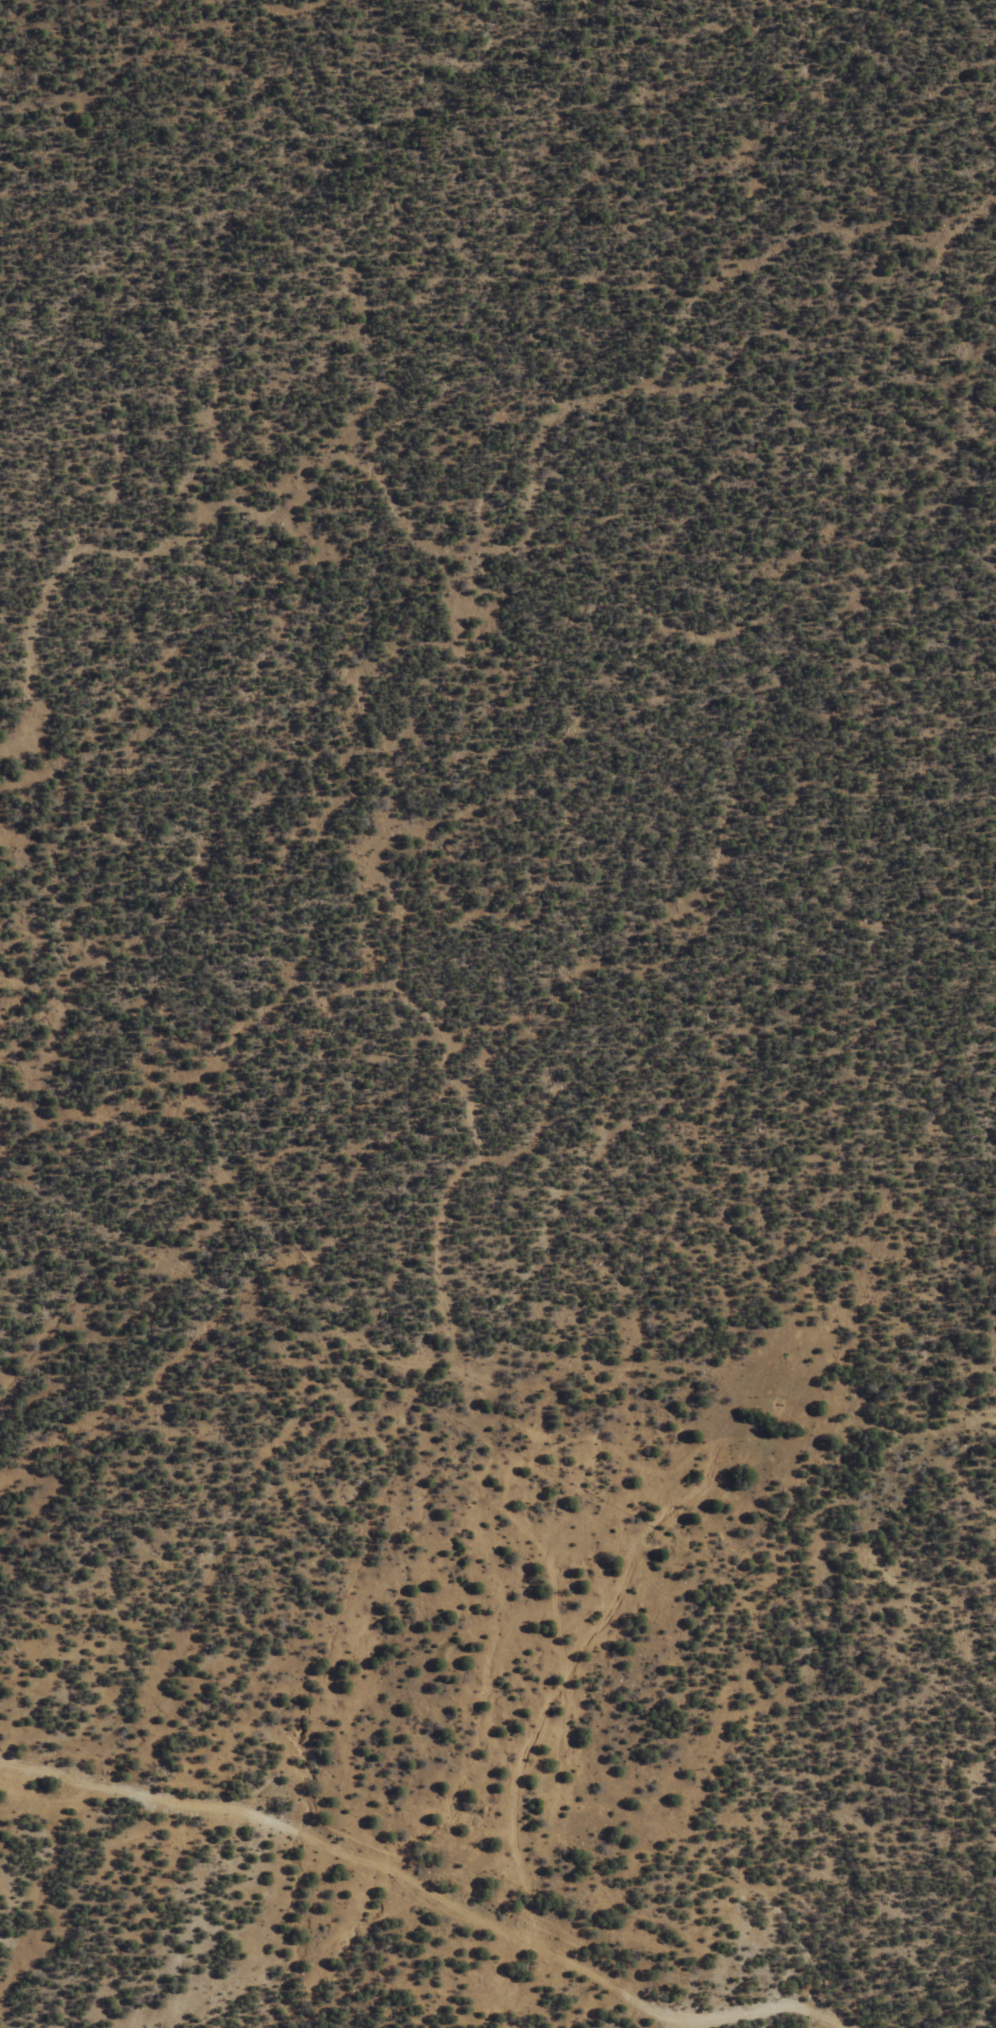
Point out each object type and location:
road: (416, 1909)

